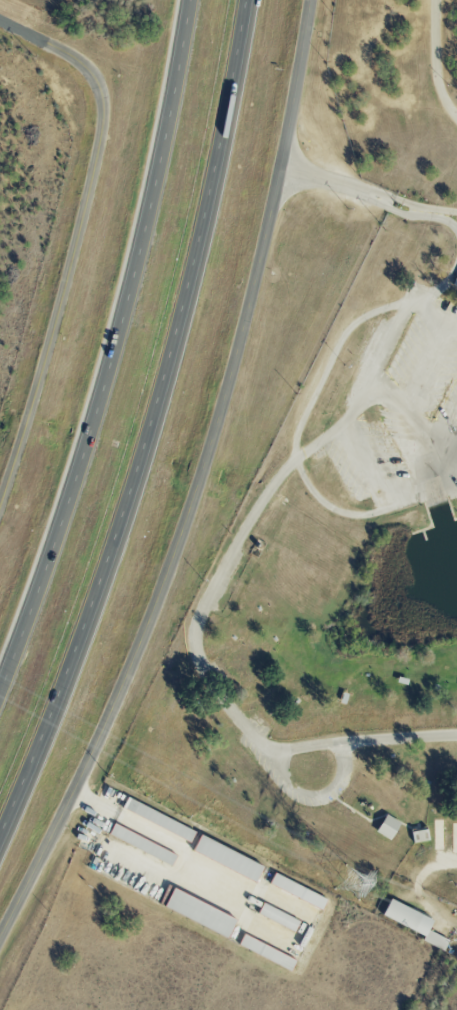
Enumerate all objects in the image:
road: (68, 54)
road: (441, 63)
road: (370, 194)
road: (442, 223)
building: (454, 282)
road: (433, 314)
road: (59, 317)
road: (393, 332)
road: (113, 349)
road: (428, 367)
parking lot: (404, 401)
road: (409, 415)
road: (151, 429)
road: (320, 438)
road: (362, 467)
road: (201, 482)
road: (378, 511)
park: (342, 543)
road: (195, 639)
road: (400, 737)
road: (341, 766)
road: (291, 786)
building: (157, 819)
building: (385, 826)
road: (154, 830)
building: (418, 835)
building: (140, 844)
building: (225, 858)
power tower: (351, 880)
building: (296, 891)
building: (198, 912)
building: (411, 922)
building: (265, 952)

